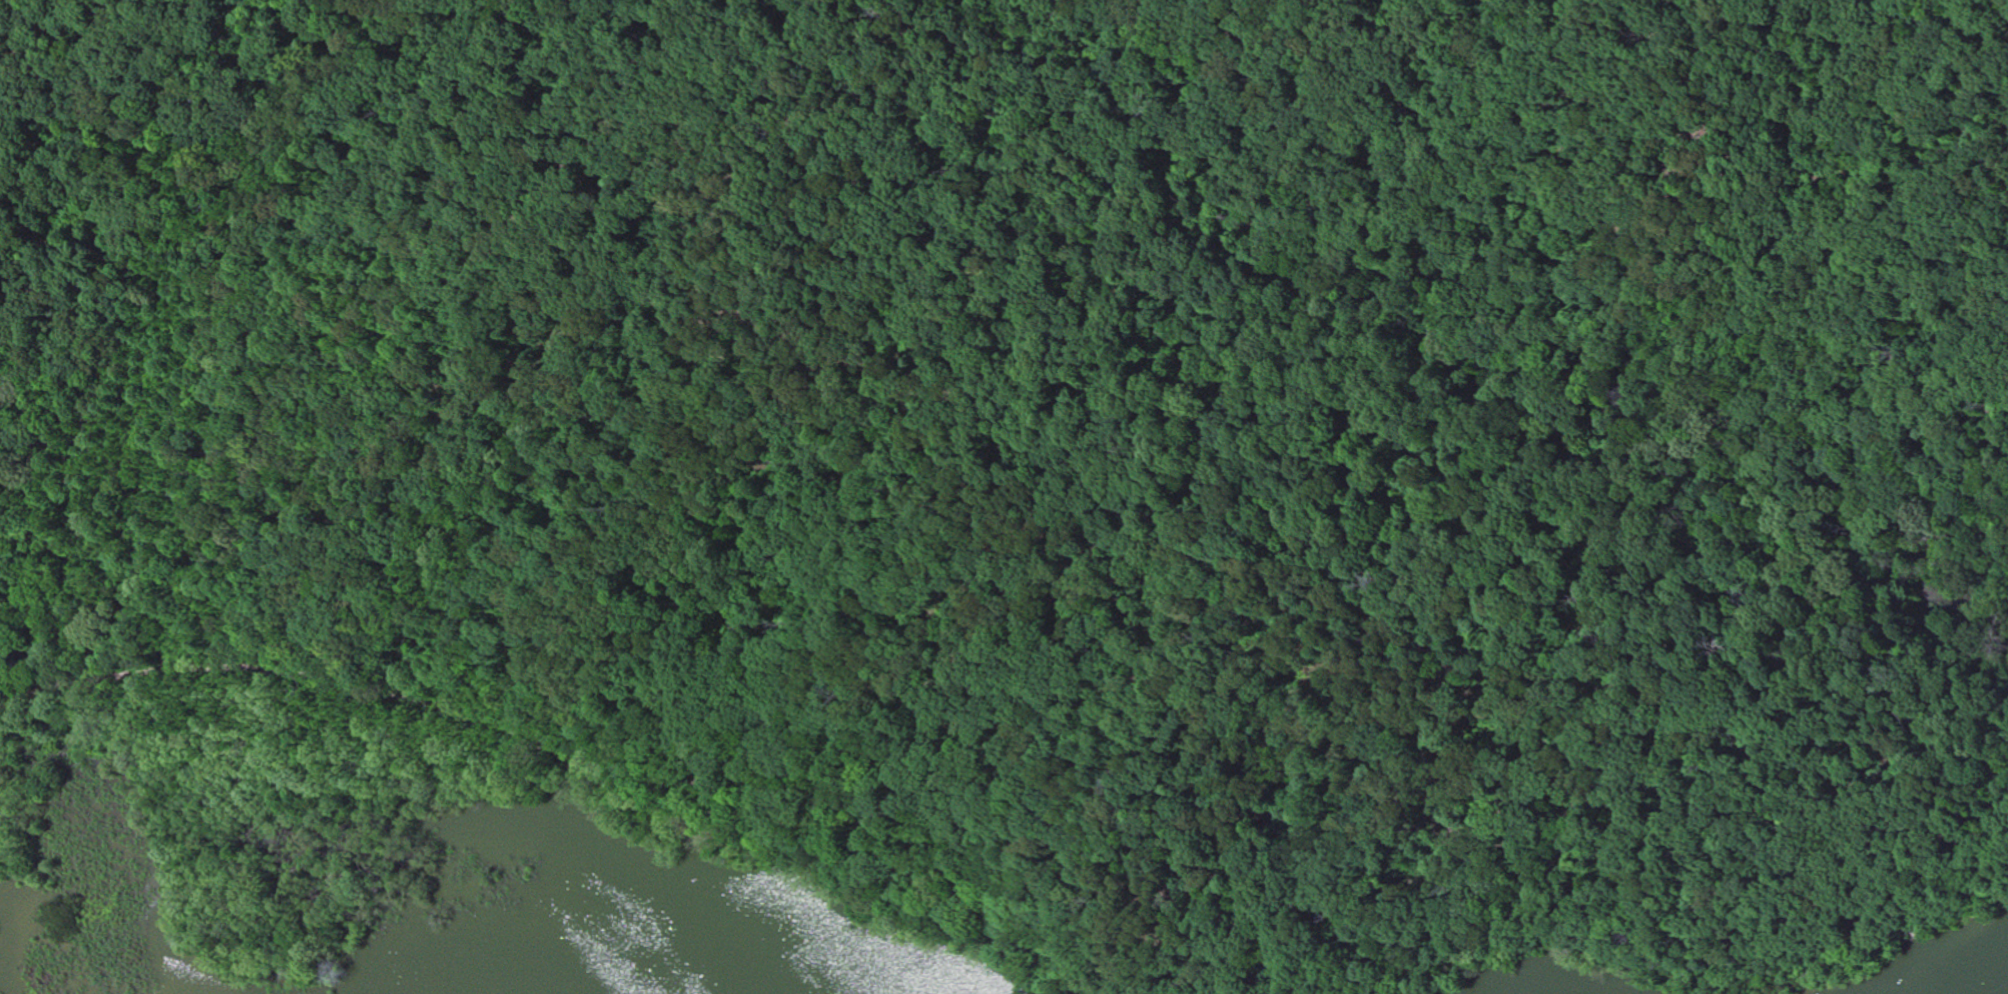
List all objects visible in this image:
road: (510, 733)
river: (17, 940)

